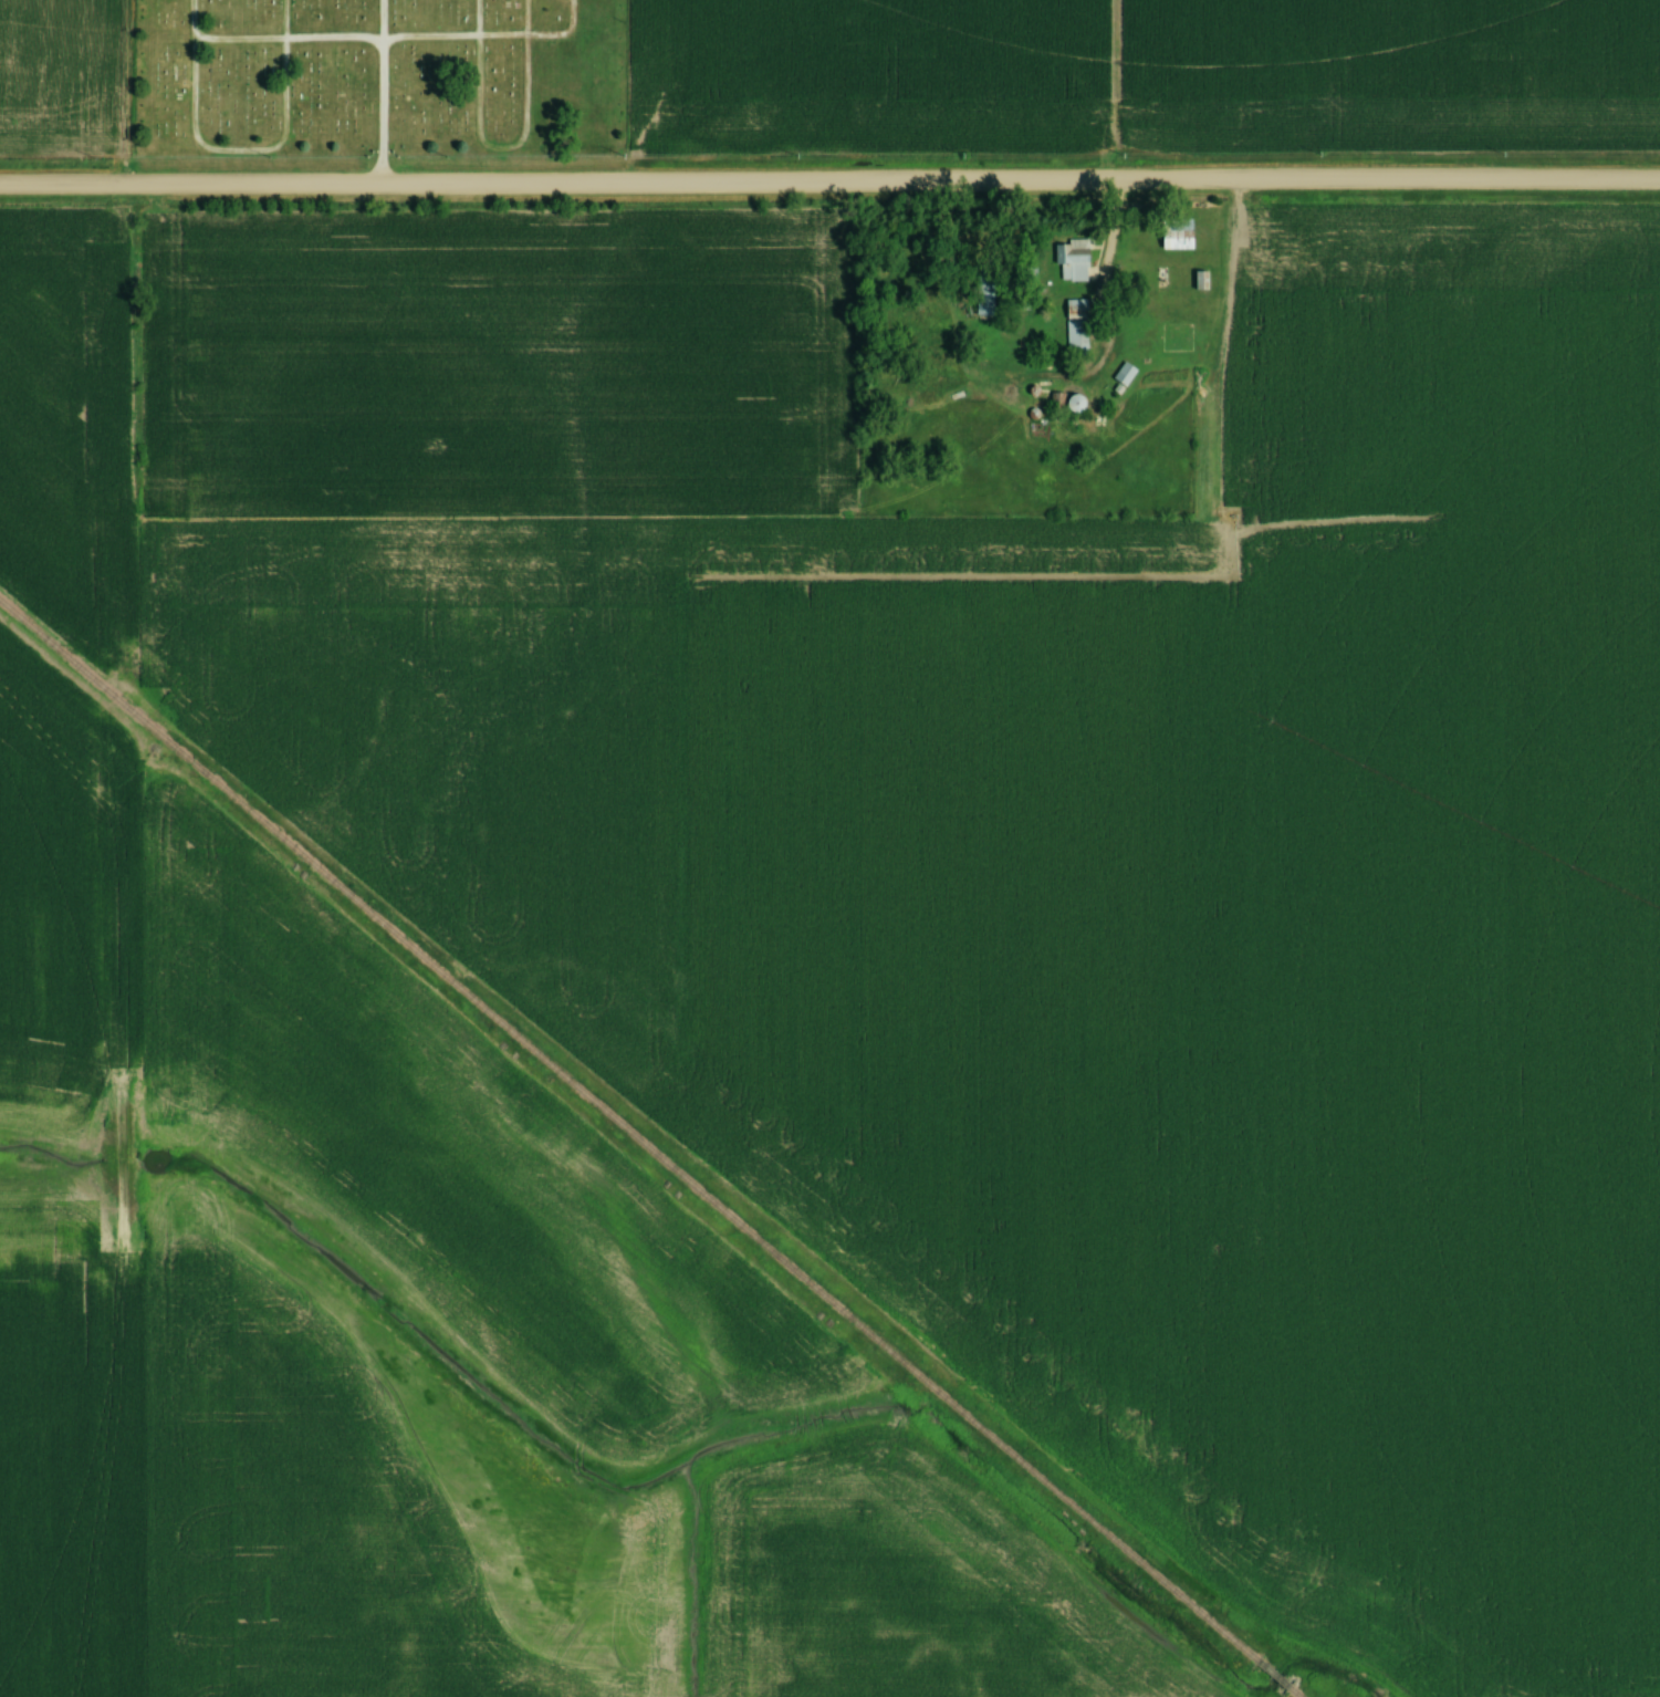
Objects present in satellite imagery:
park: (380, 82)
road: (829, 187)
building: (1172, 236)
building: (1072, 262)
road: (1223, 283)
building: (983, 296)
building: (1074, 329)
building: (1173, 340)
building: (1121, 376)
railway: (630, 1125)
railway: (1276, 1672)
railway: (1299, 1689)

